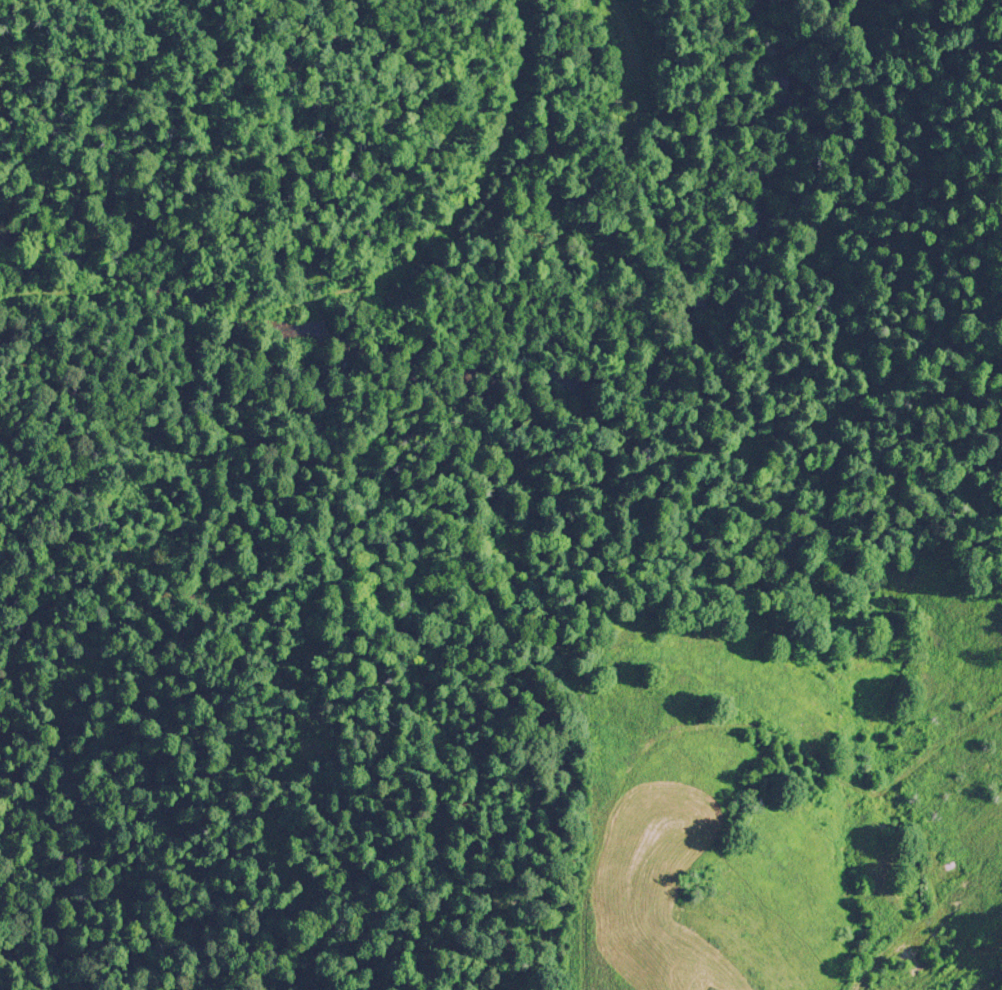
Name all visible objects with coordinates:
railway: (450, 218)
railway: (190, 301)
railway: (72, 303)

